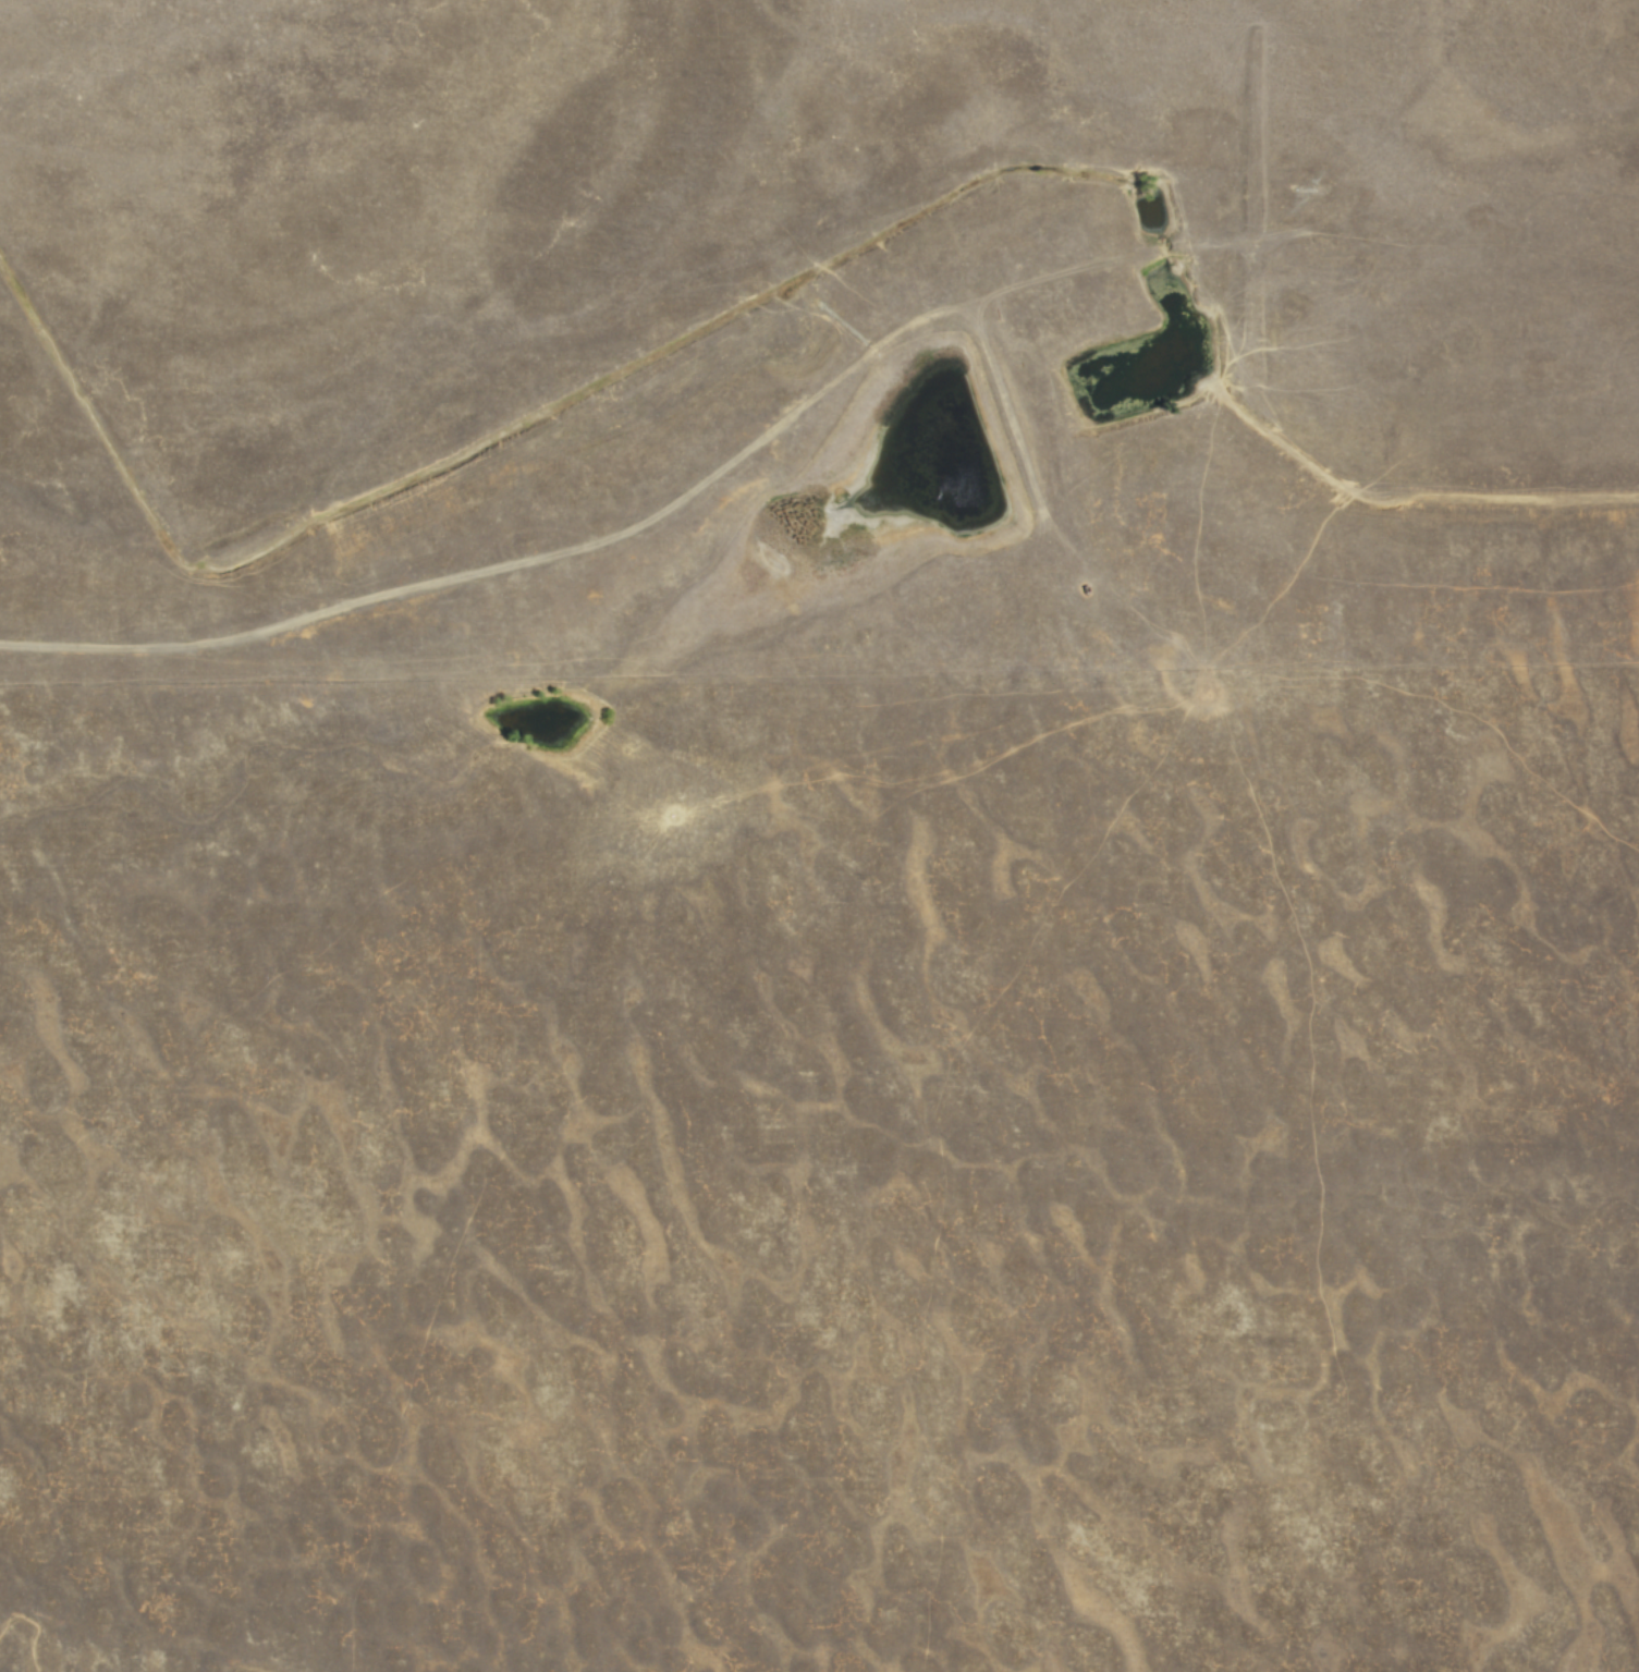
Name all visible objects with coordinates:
road: (71, 648)

